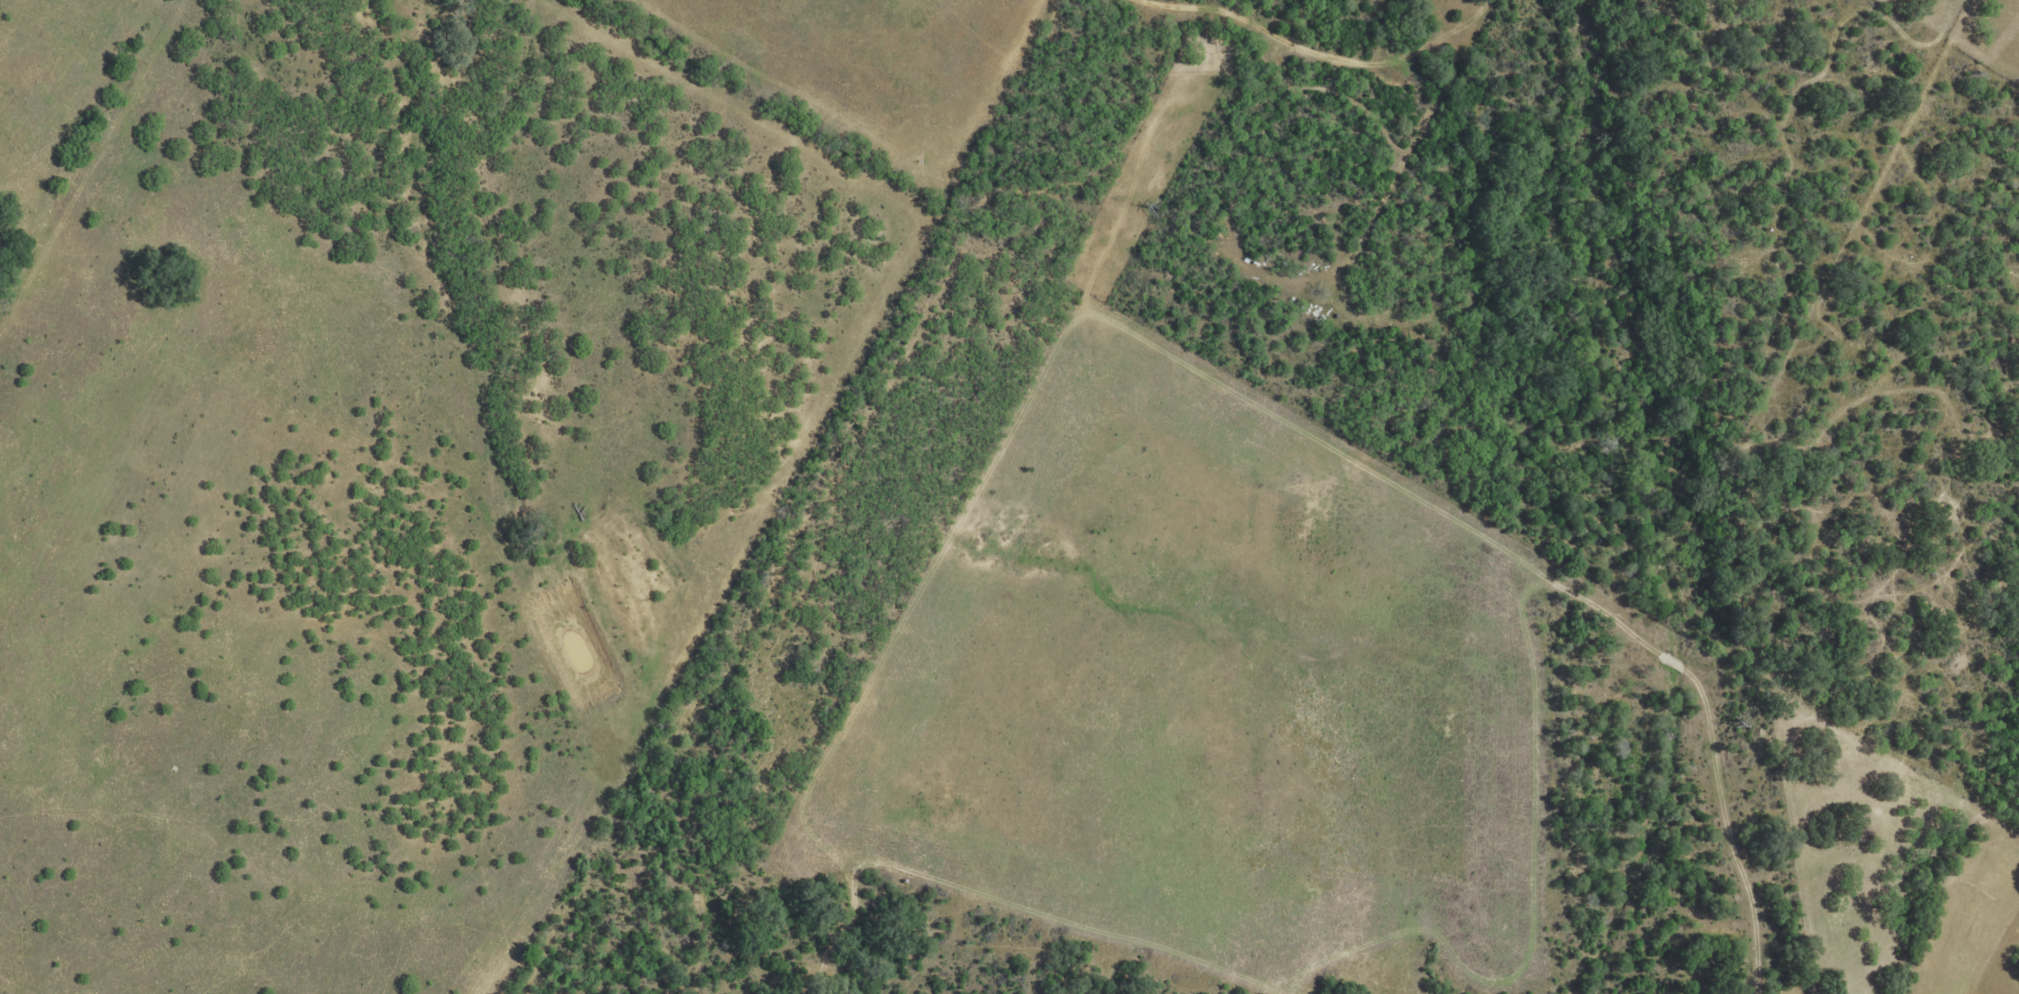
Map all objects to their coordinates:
river: (1631, 501)

